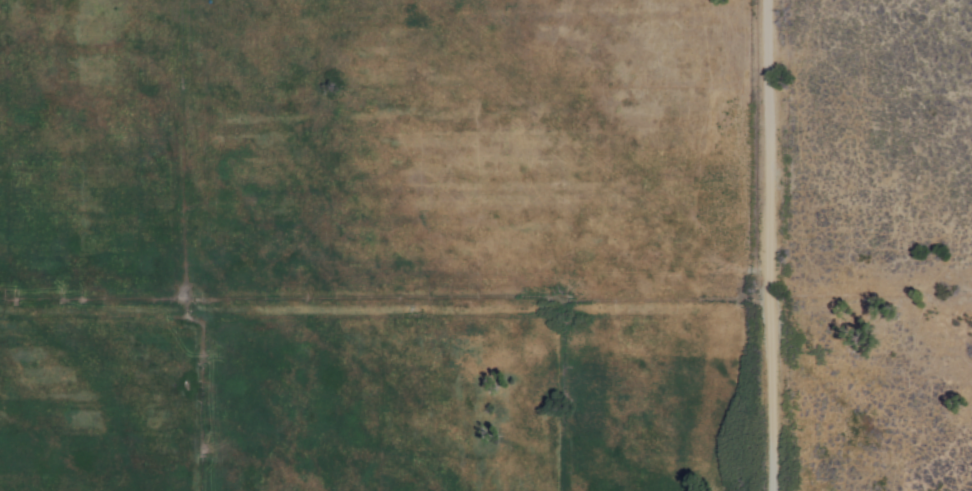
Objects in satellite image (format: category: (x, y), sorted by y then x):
road: (774, 245)

